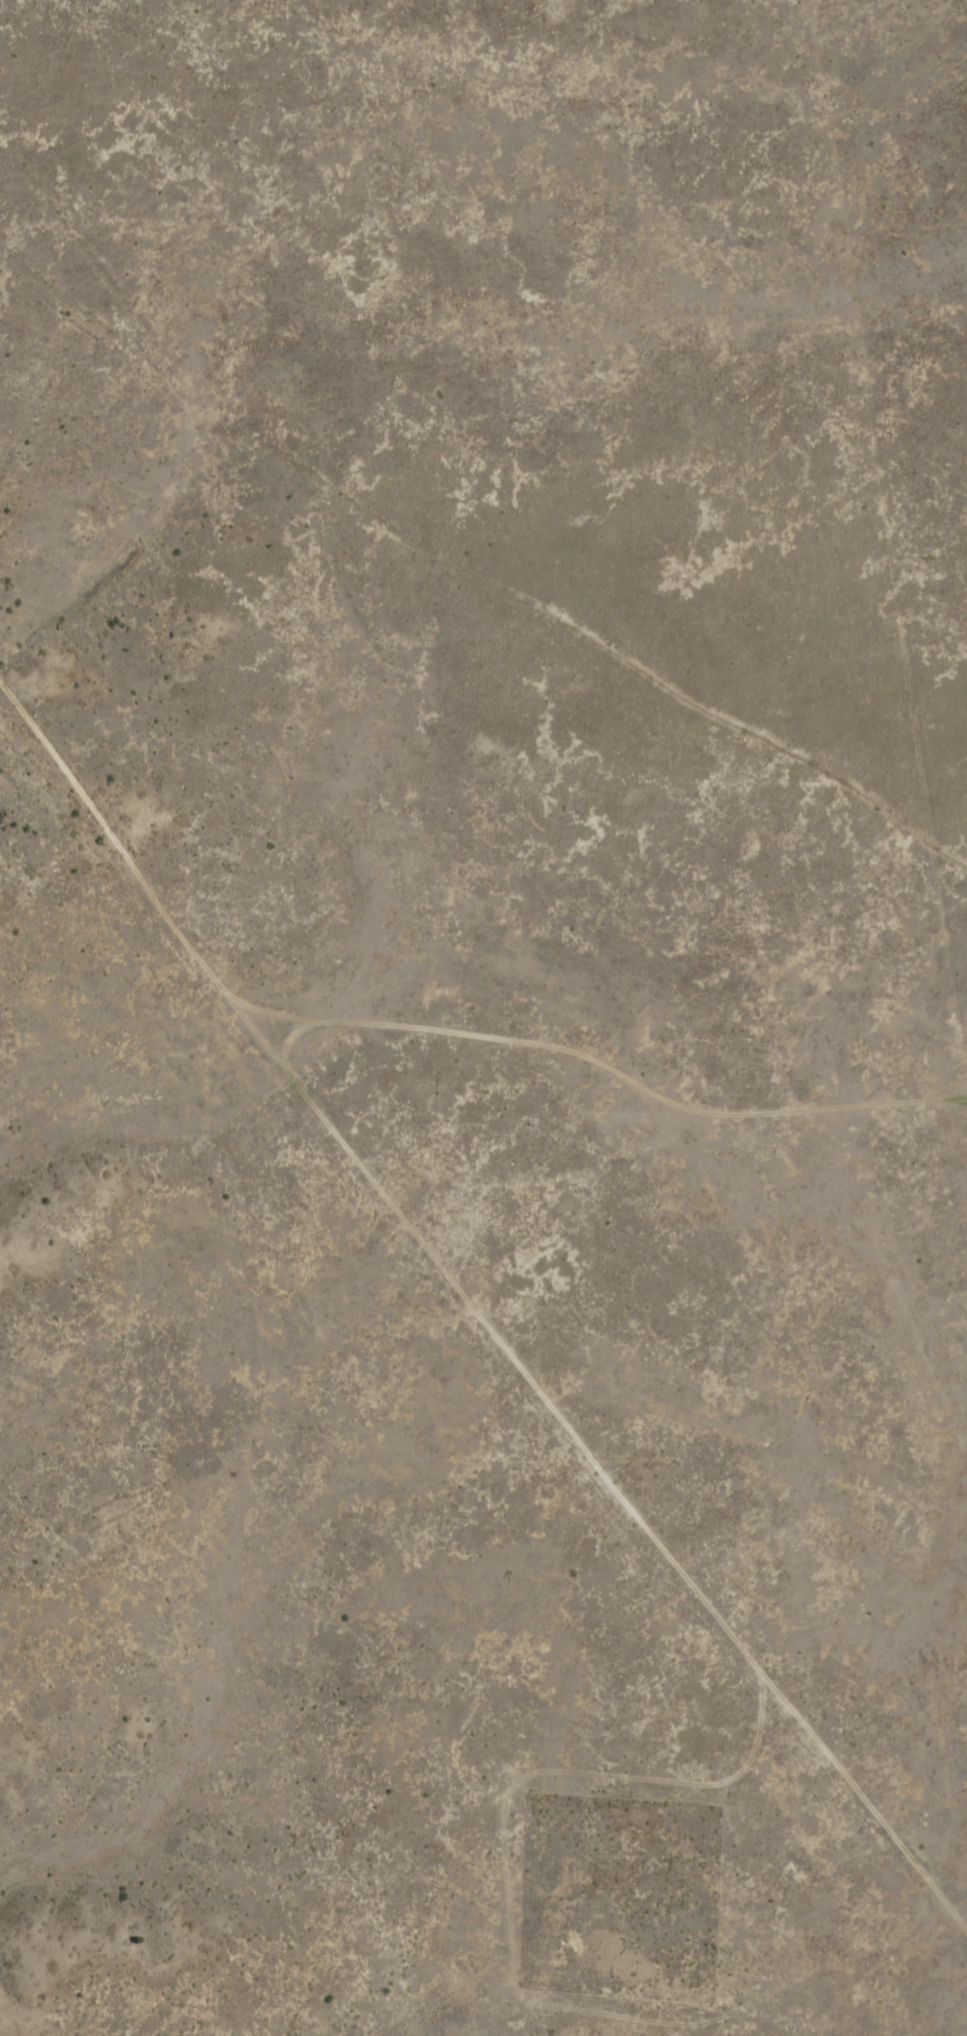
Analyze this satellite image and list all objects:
road: (604, 1090)
road: (481, 1326)
park: (619, 1895)

